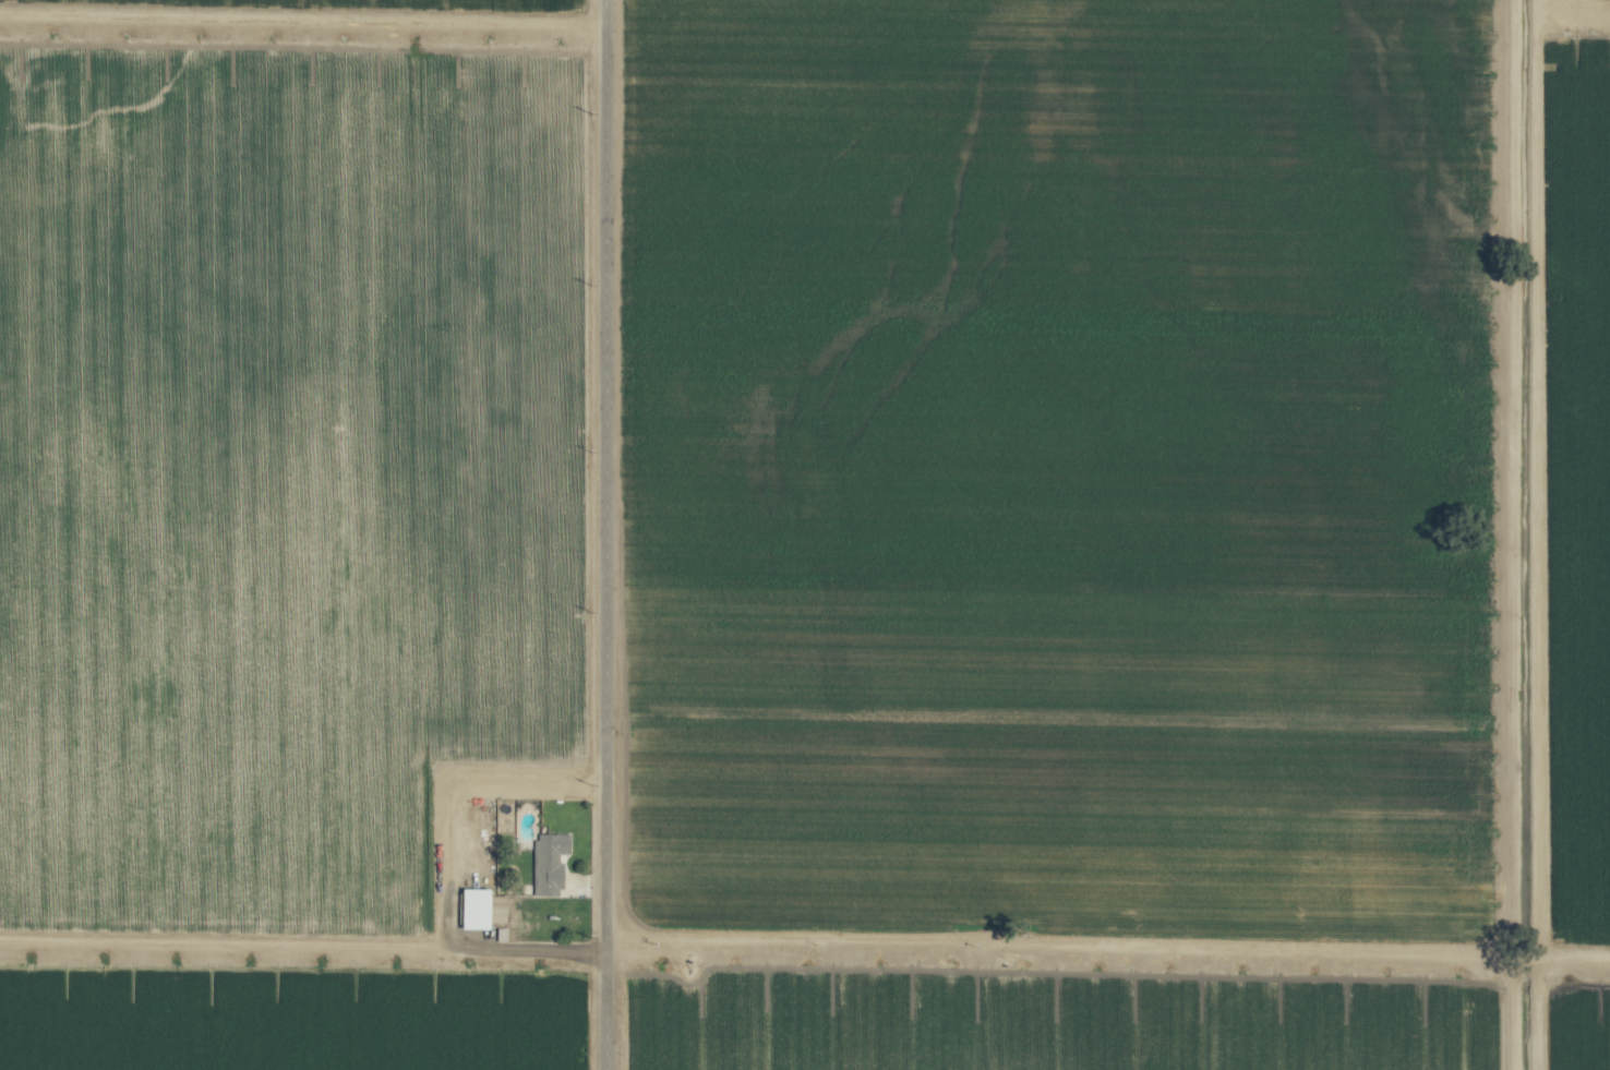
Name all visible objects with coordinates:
crop: (1555, 17)
road: (606, 534)
crop: (805, 534)
building: (551, 862)
road: (303, 946)

